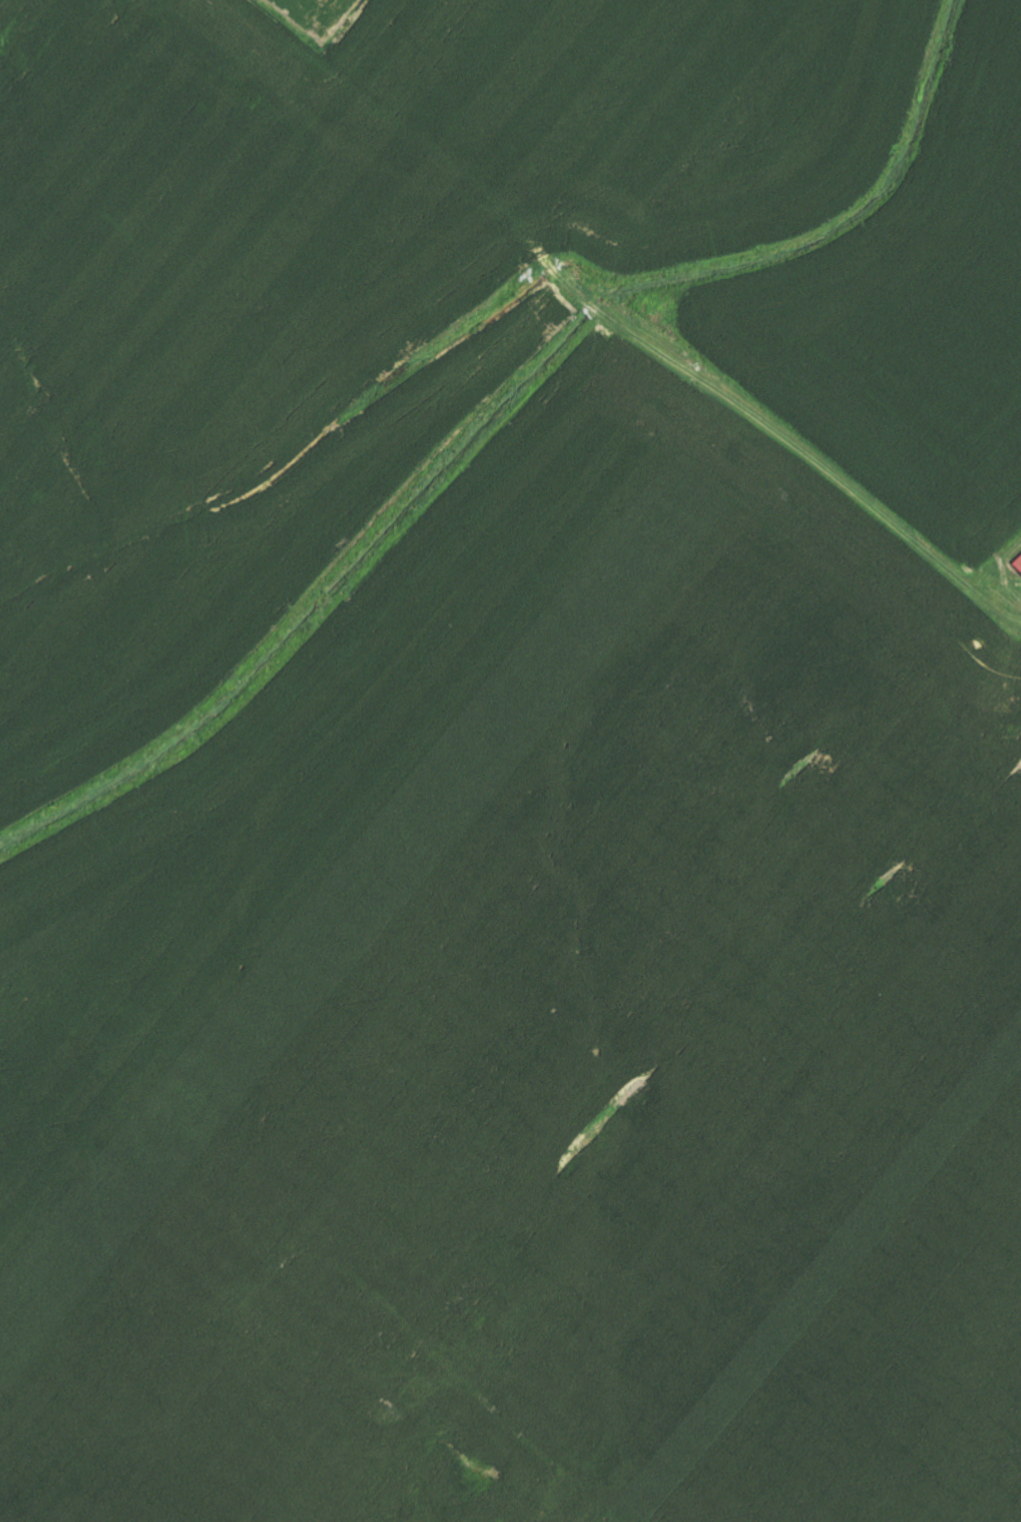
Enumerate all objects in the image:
building: (1017, 566)

